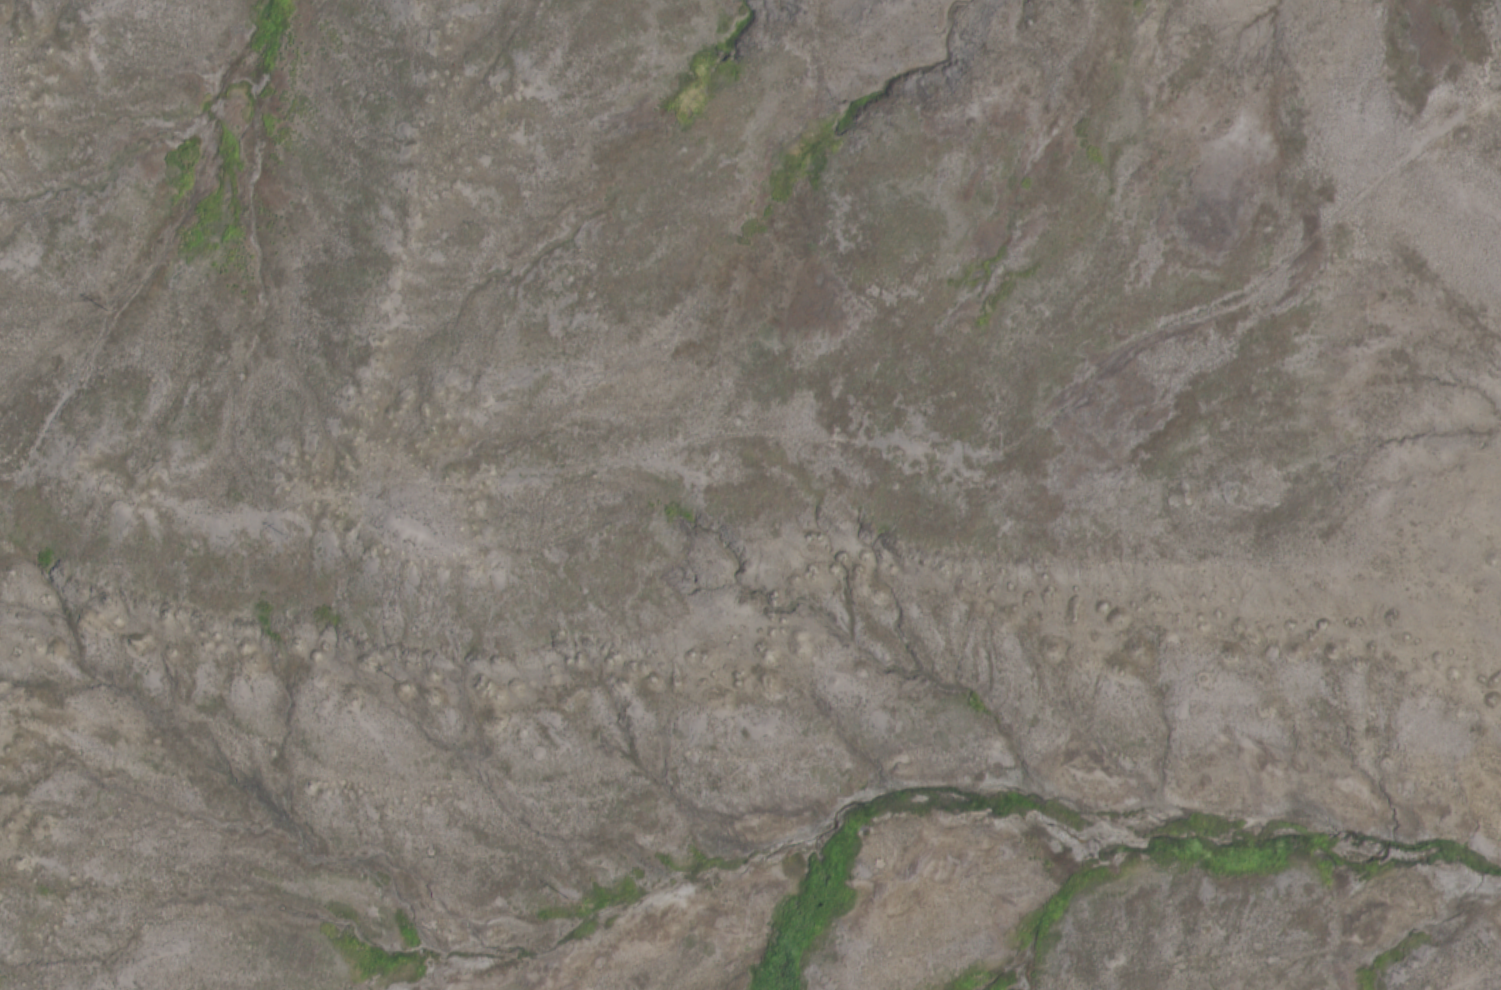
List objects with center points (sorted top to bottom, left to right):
power tower: (115, 312)
power tower: (287, 539)
power tower: (404, 687)
power tower: (574, 900)

